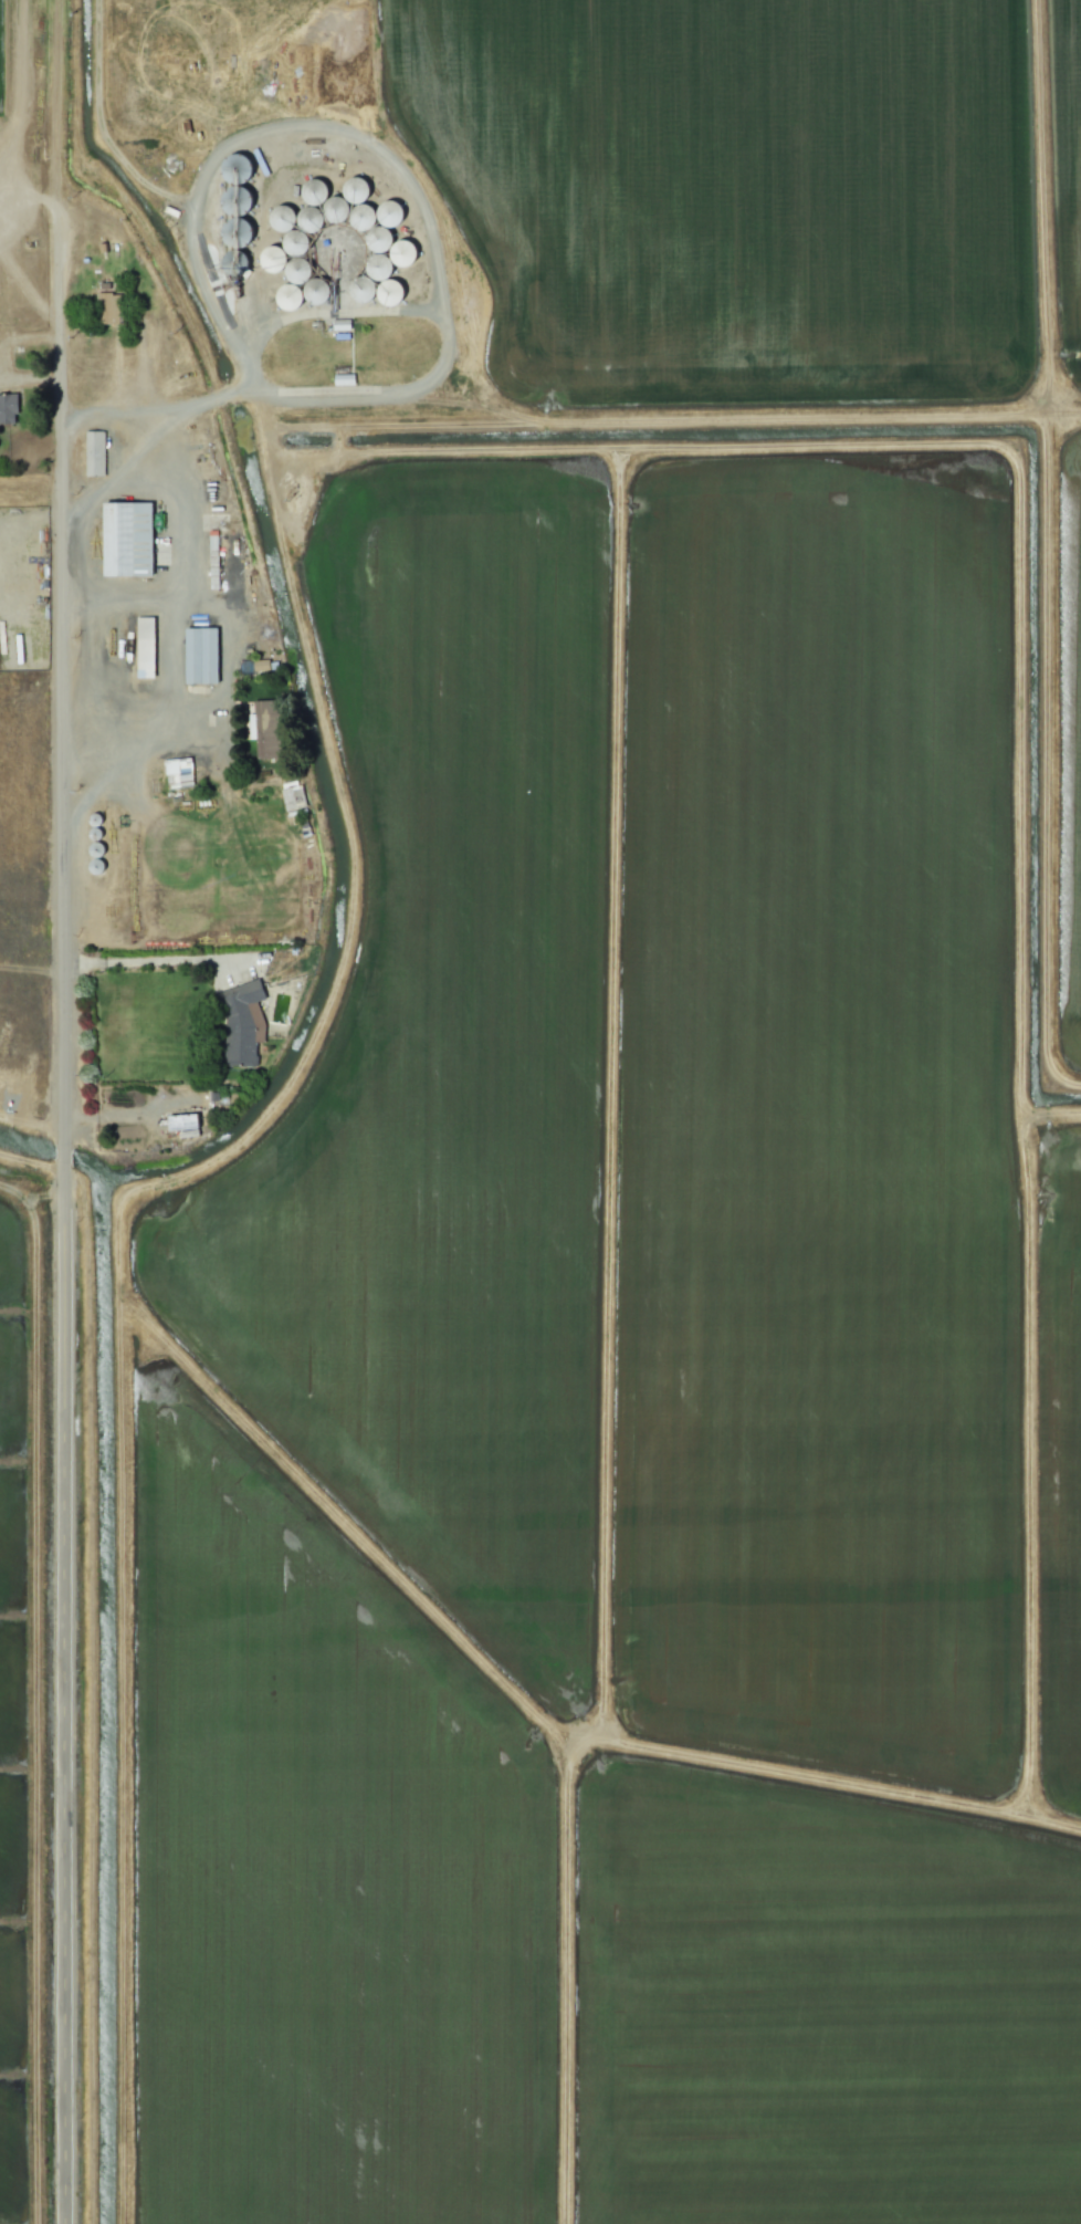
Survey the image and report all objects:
road: (379, 149)
road: (55, 173)
road: (28, 197)
building: (295, 246)
building: (403, 251)
building: (106, 307)
building: (8, 407)
road: (153, 408)
building: (93, 452)
road: (117, 476)
building: (126, 539)
building: (212, 554)
road: (182, 565)
building: (144, 647)
building: (200, 655)
road: (224, 658)
building: (258, 665)
road: (57, 672)
road: (158, 728)
building: (263, 729)
building: (176, 773)
building: (292, 797)
road: (150, 961)
building: (241, 1022)
building: (182, 1124)
road: (62, 1155)
road: (61, 1200)
road: (61, 1729)

